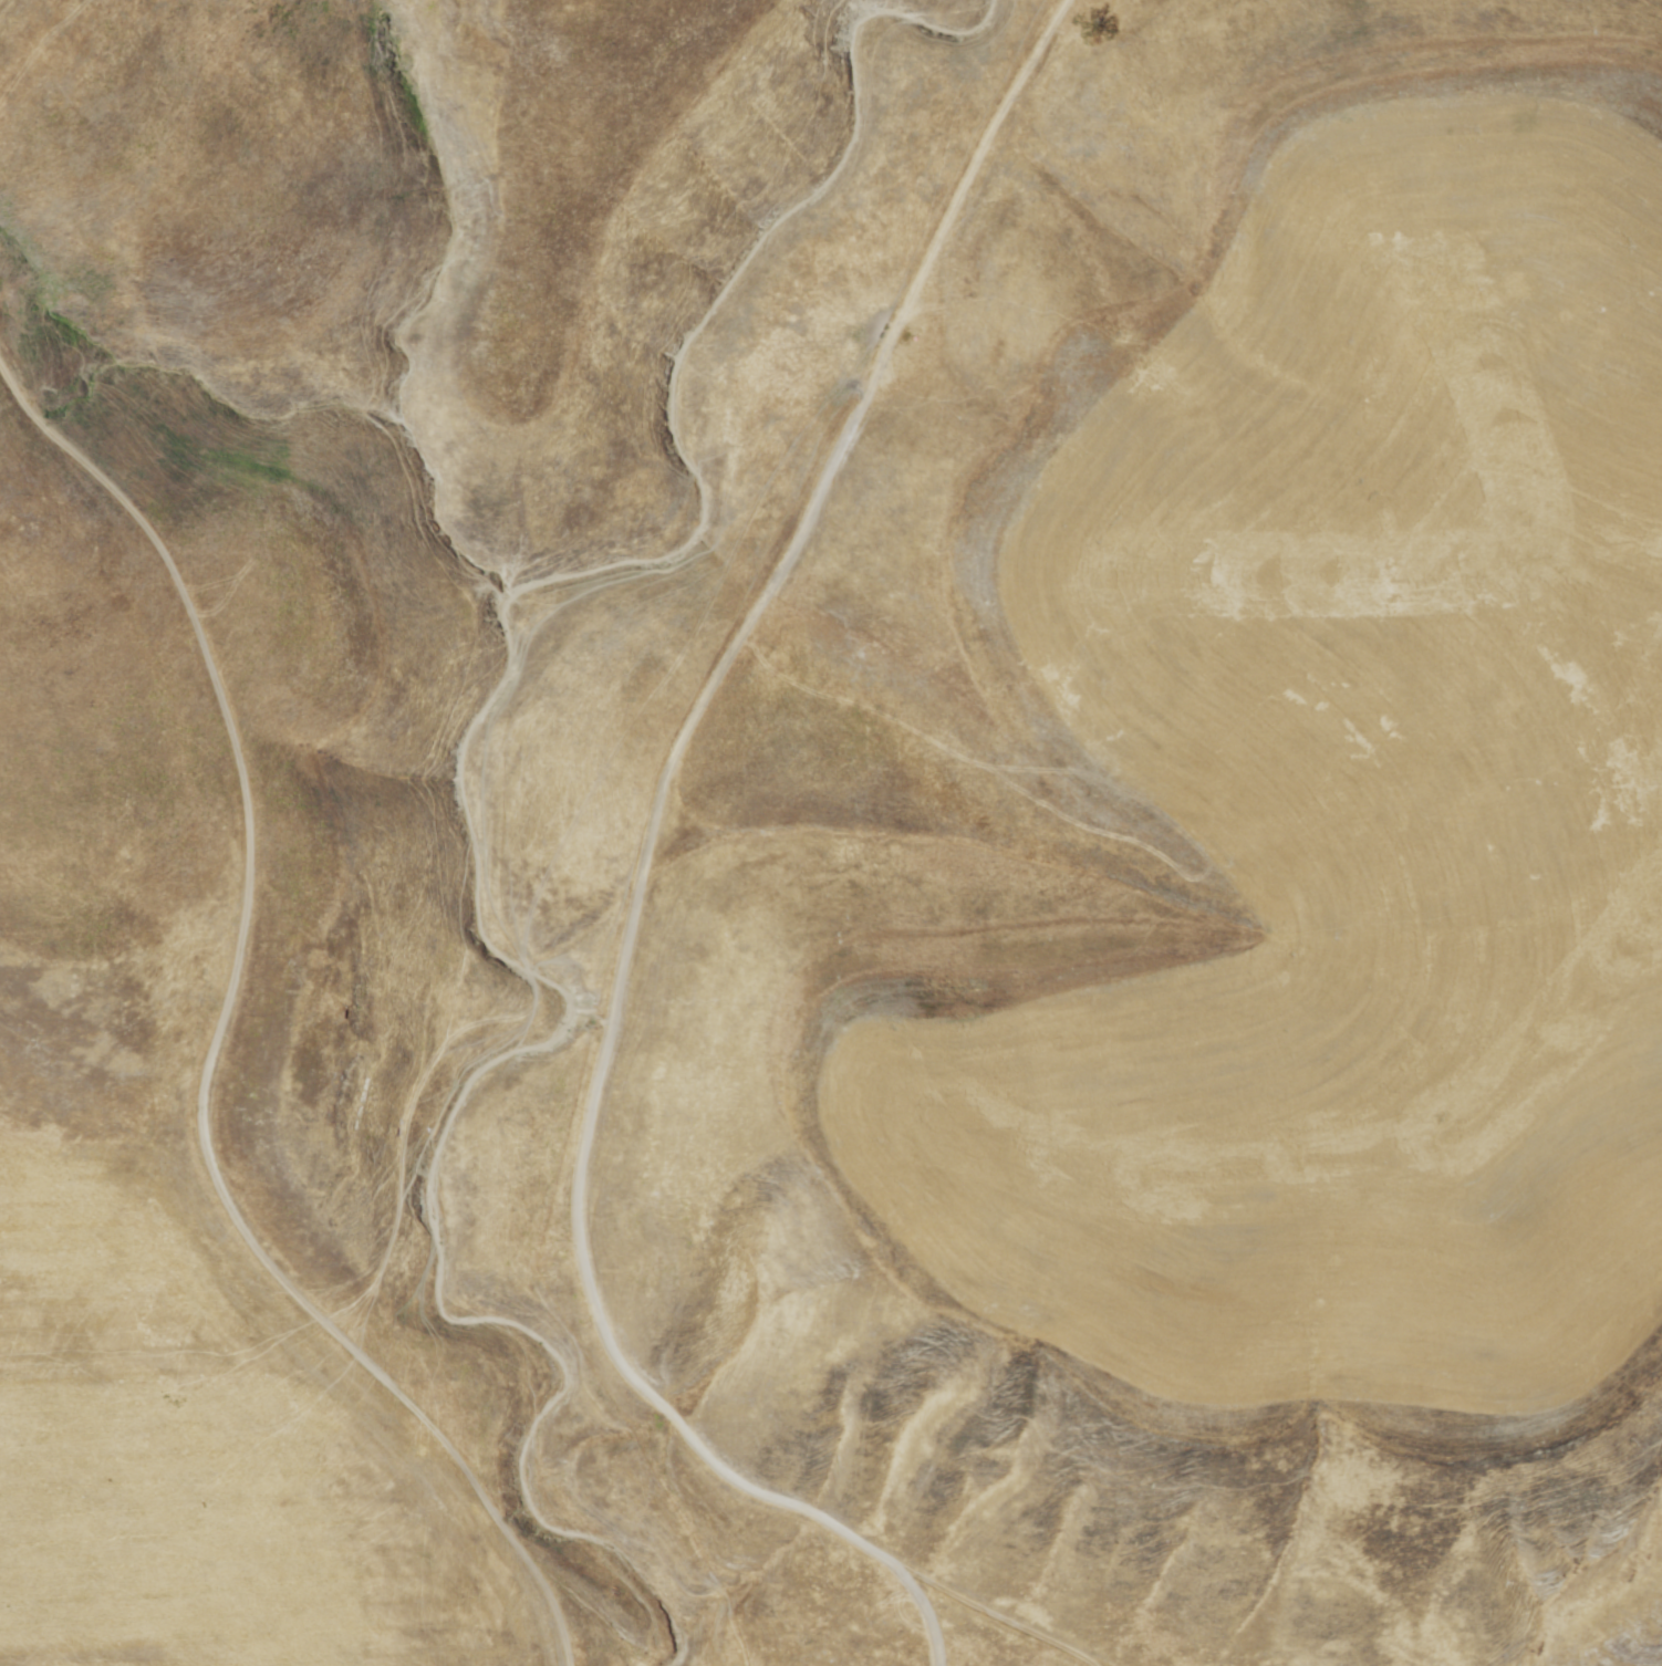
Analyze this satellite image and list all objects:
road: (219, 1034)

